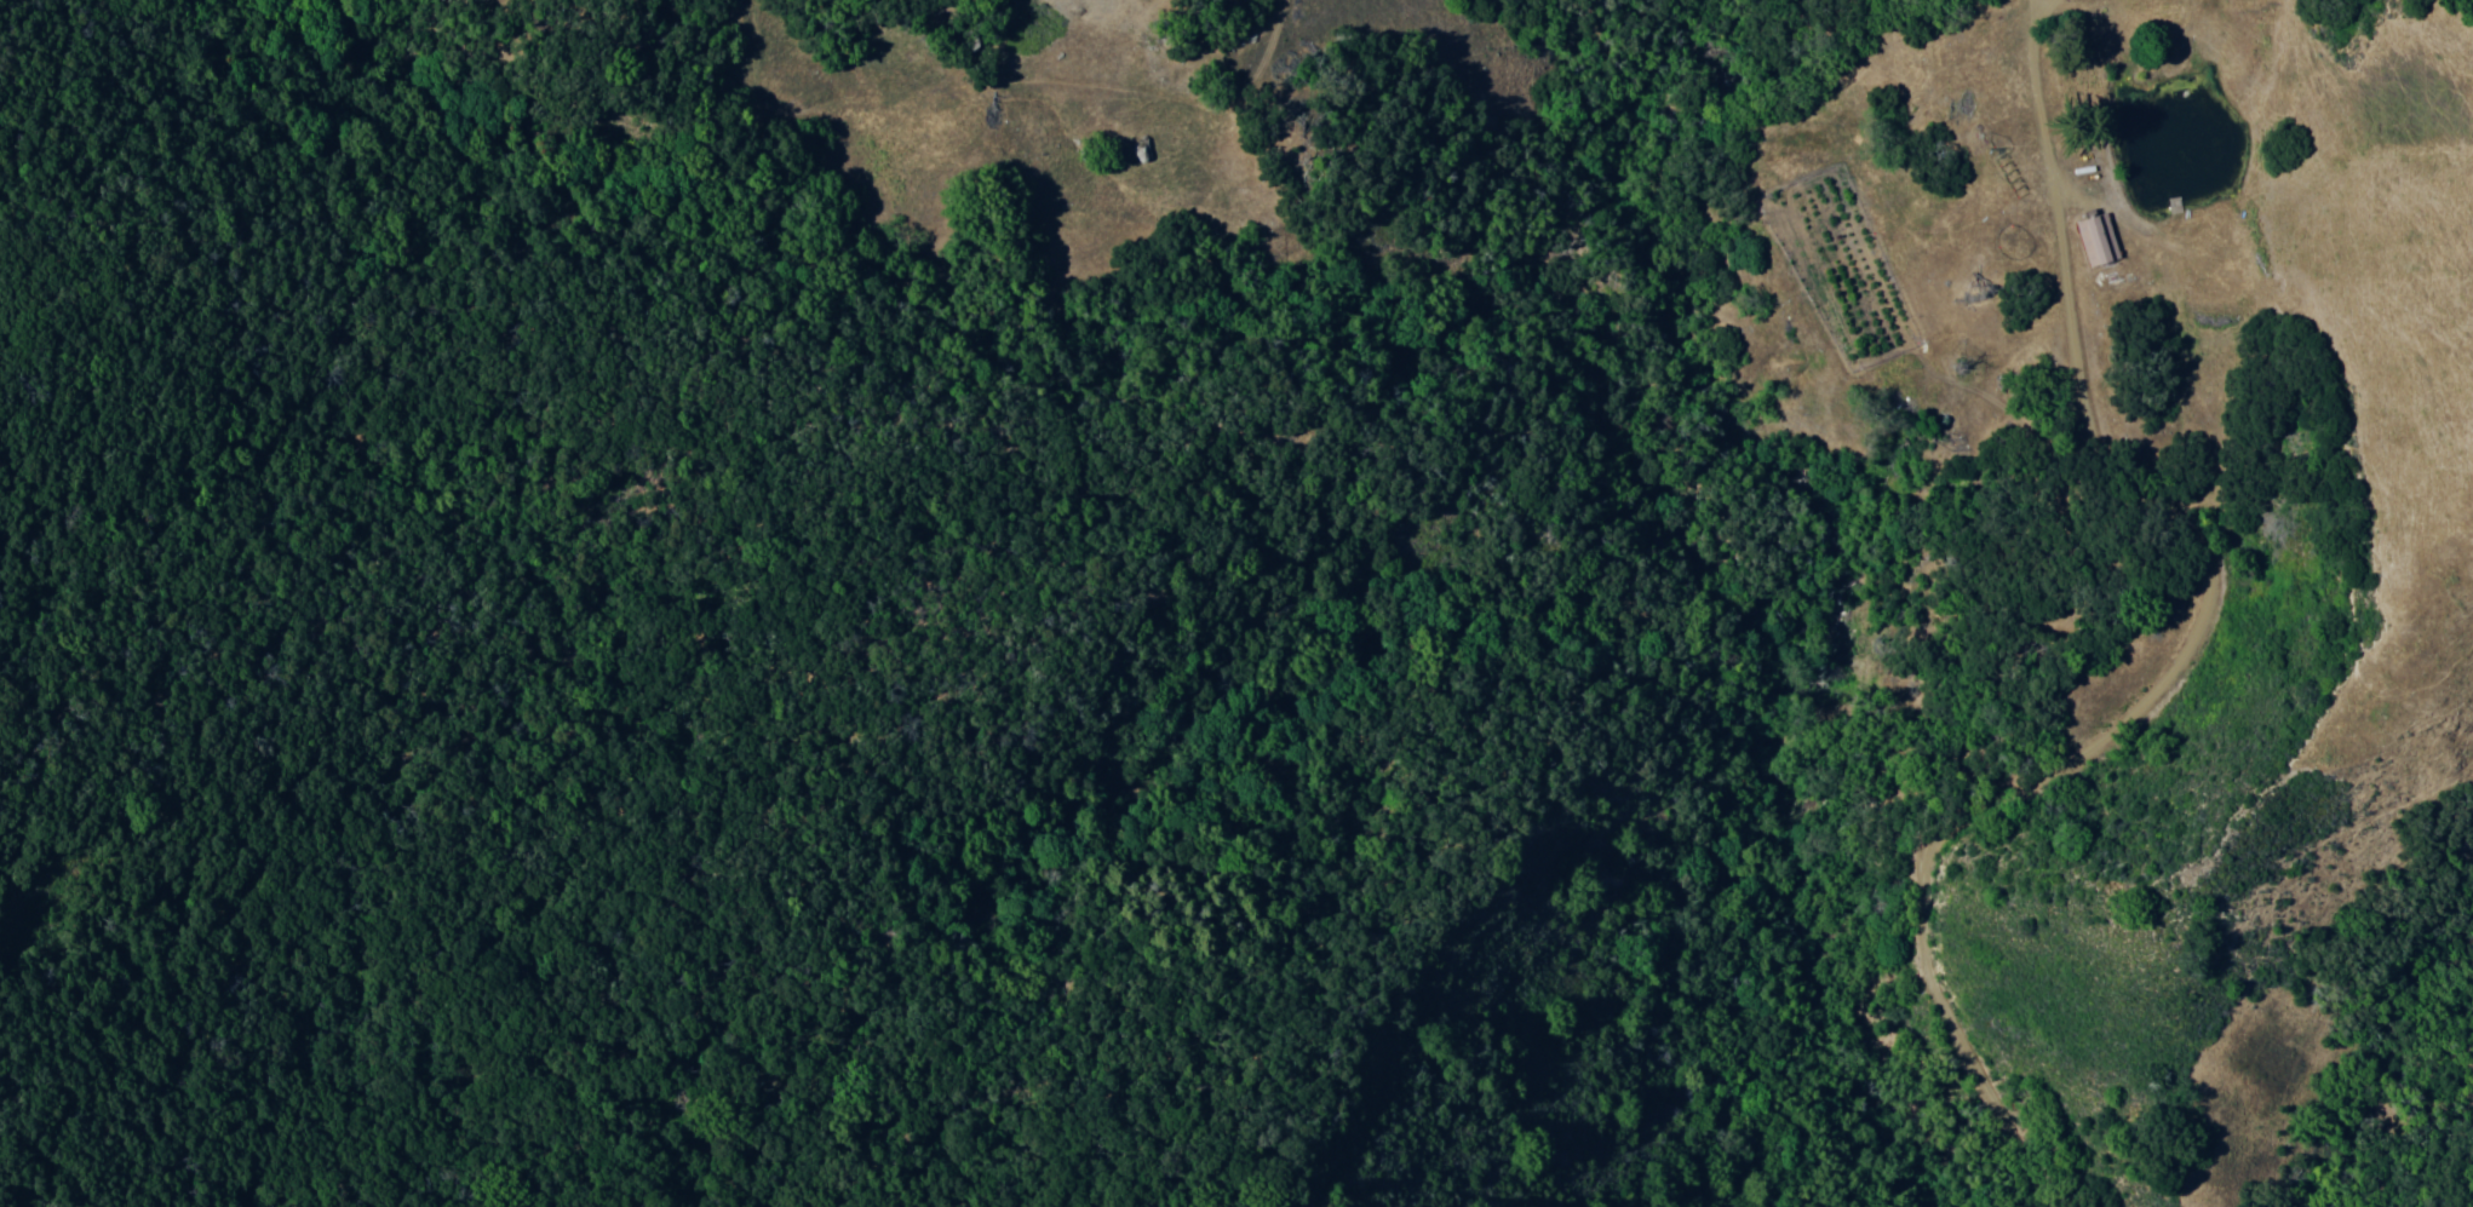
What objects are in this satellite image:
road: (2033, 62)
building: (2101, 238)
road: (2127, 703)

